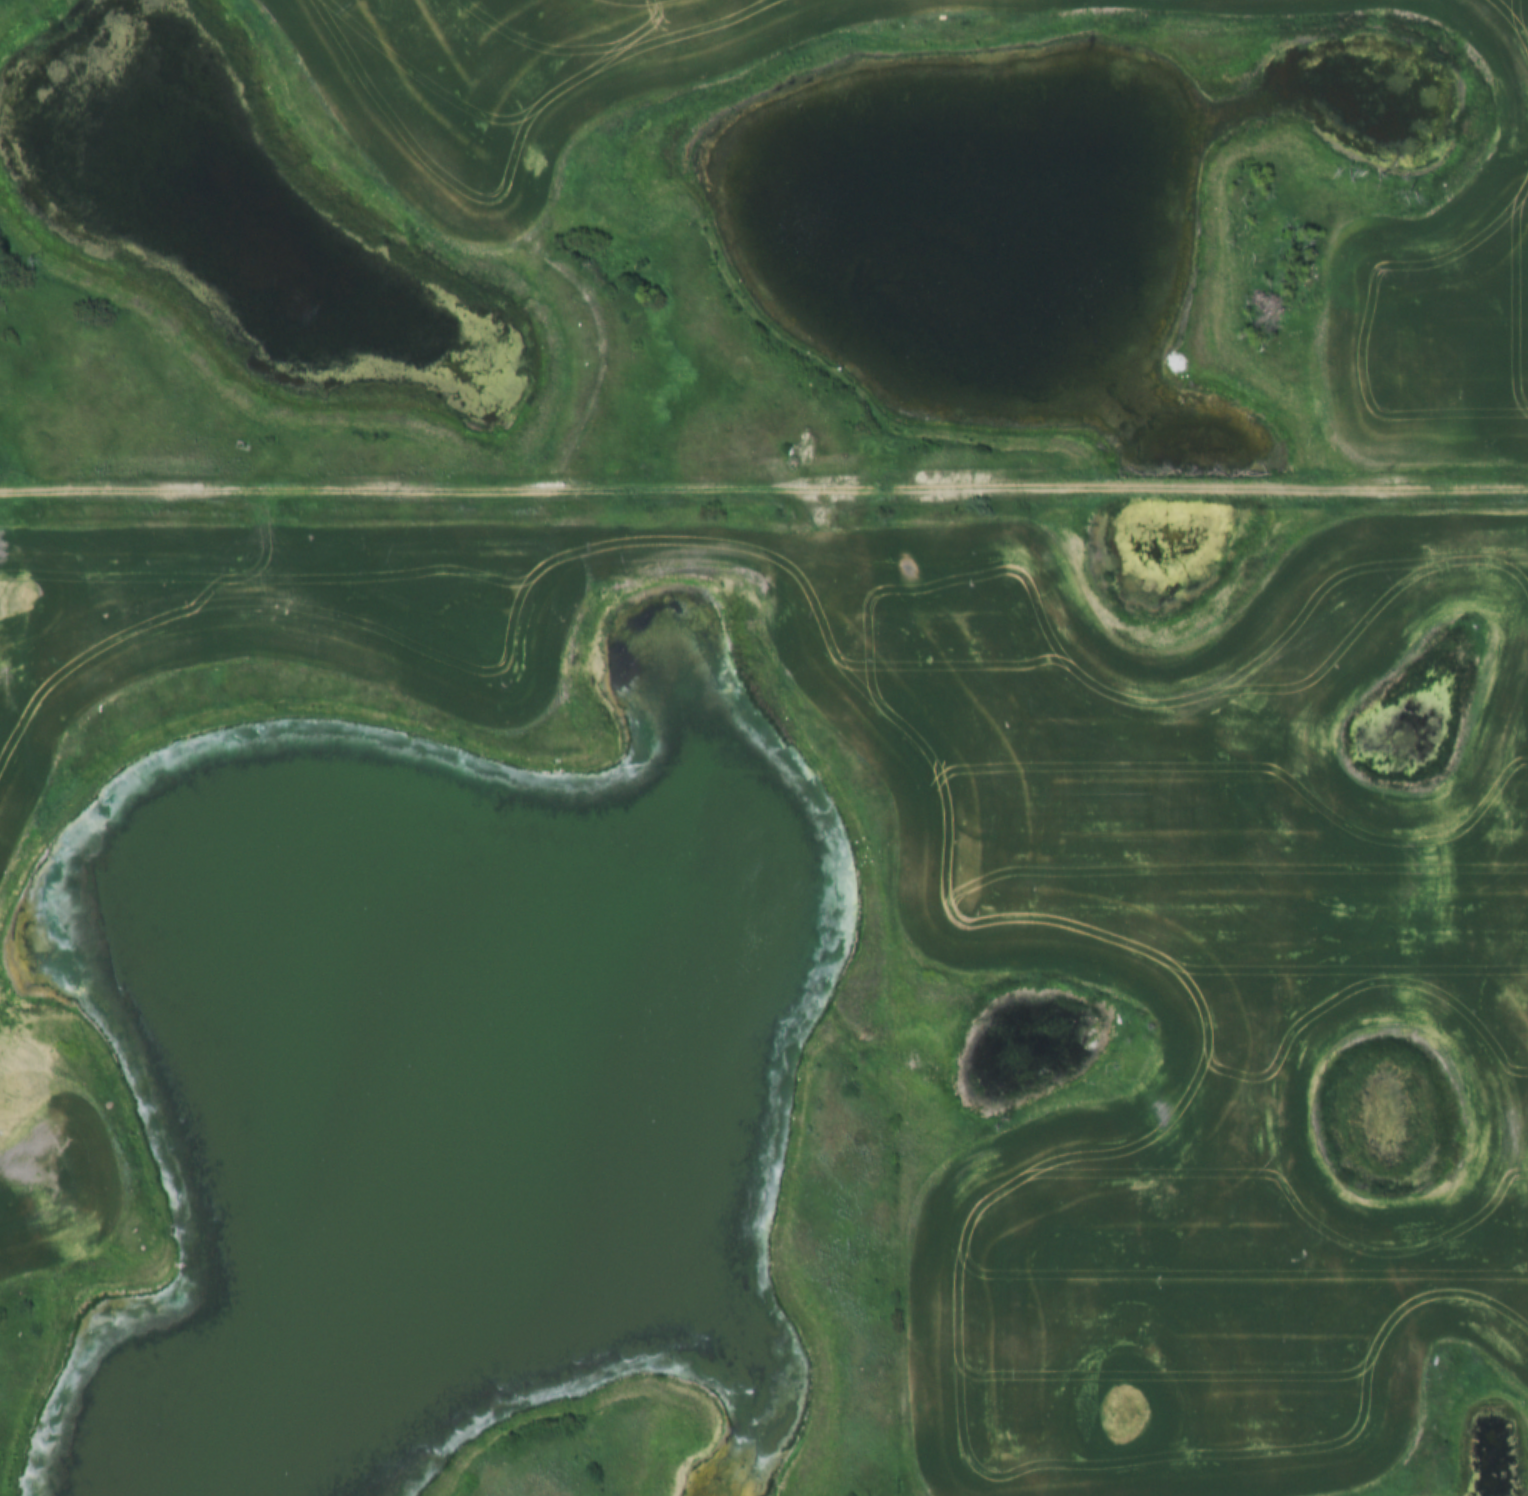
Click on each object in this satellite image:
road: (855, 483)

